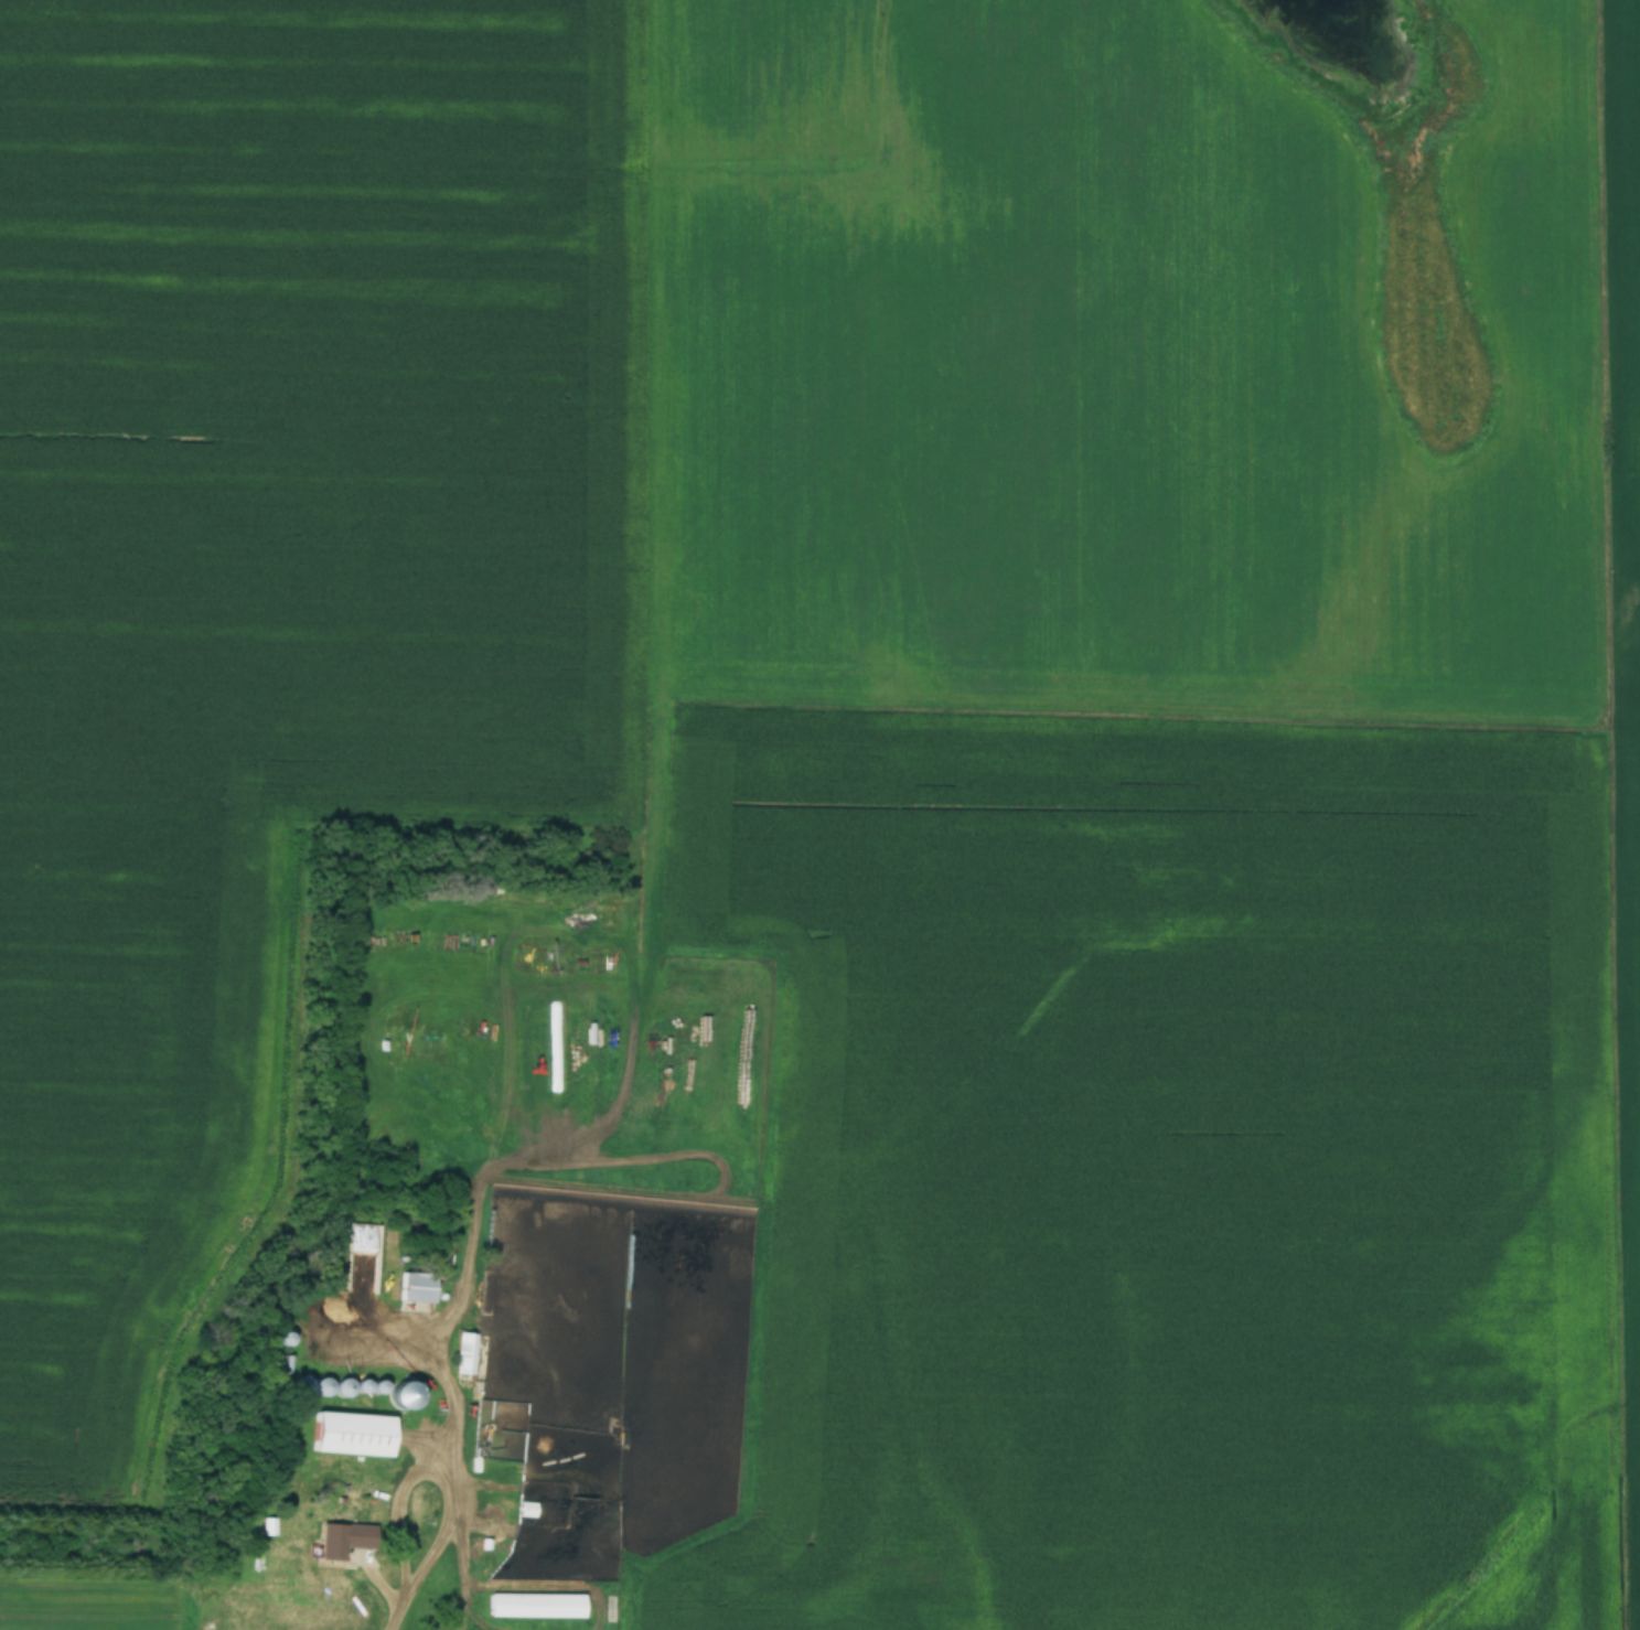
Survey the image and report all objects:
building: (364, 1258)
building: (418, 1288)
building: (467, 1355)
building: (302, 1387)
building: (324, 1388)
building: (345, 1390)
building: (424, 1393)
building: (354, 1436)
road: (398, 1506)
building: (527, 1512)
building: (345, 1541)
building: (536, 1607)
road: (399, 1610)

